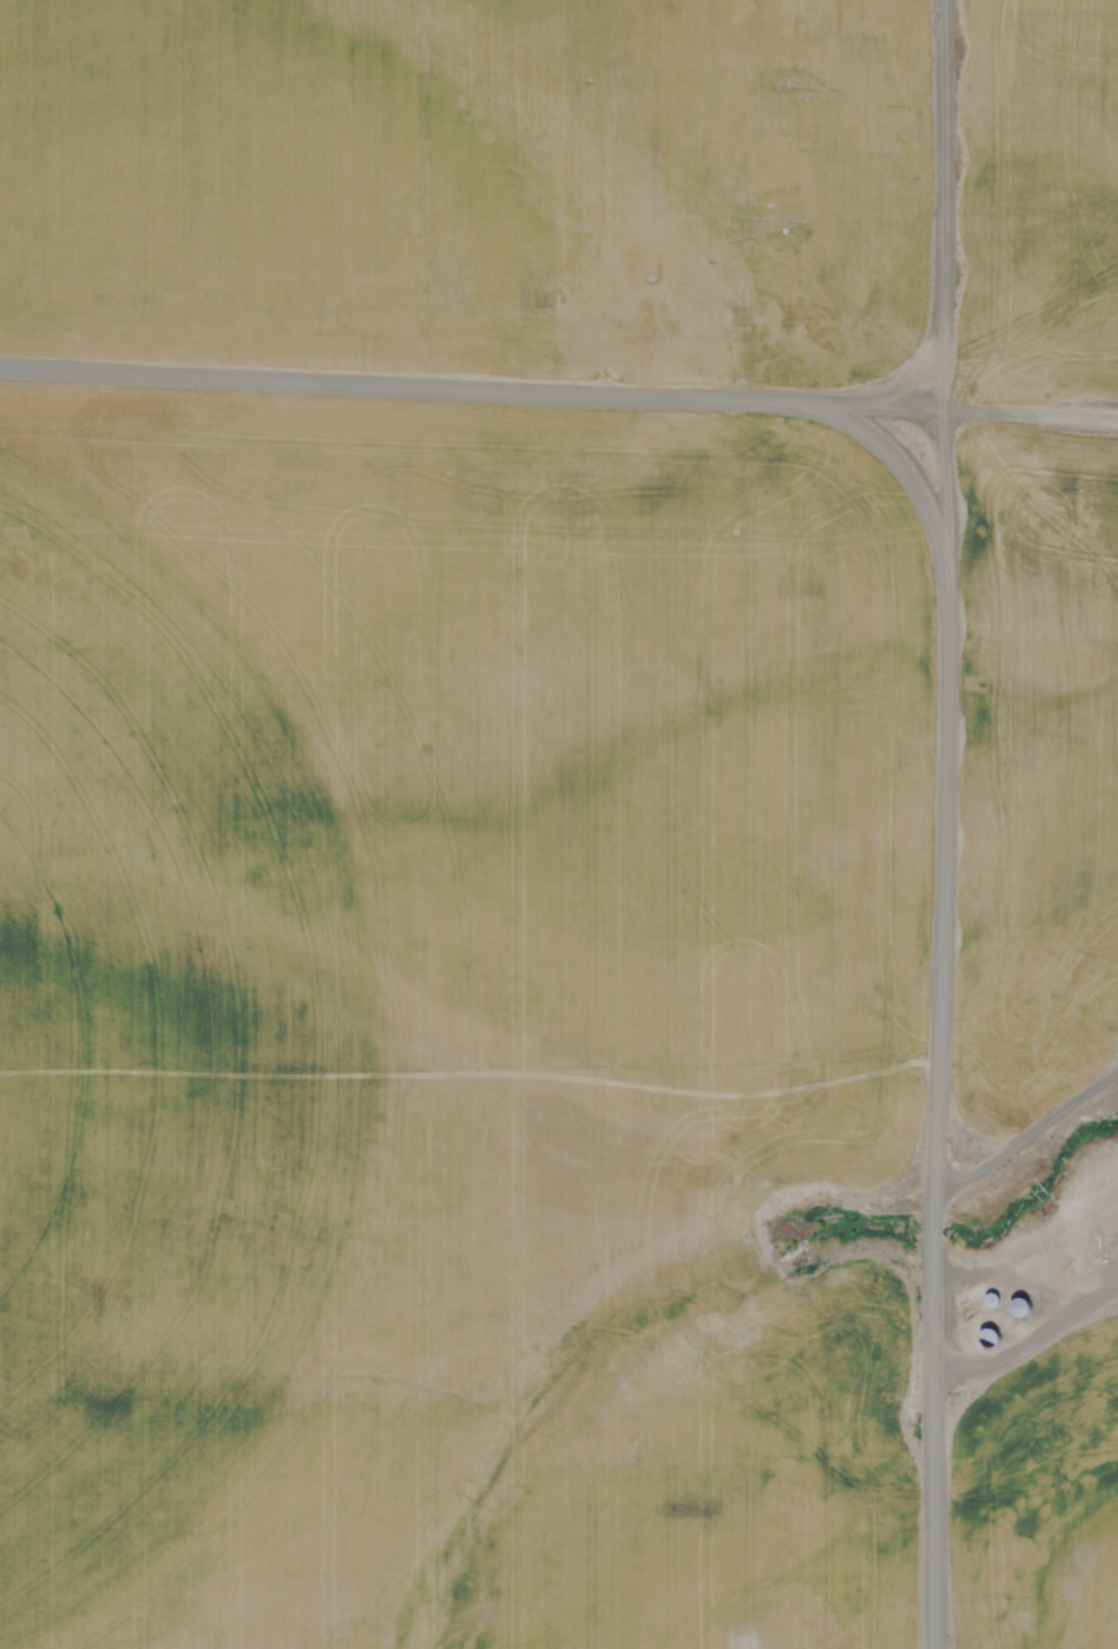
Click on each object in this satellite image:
road: (938, 233)
road: (943, 589)
road: (1026, 1119)
road: (1028, 1326)

